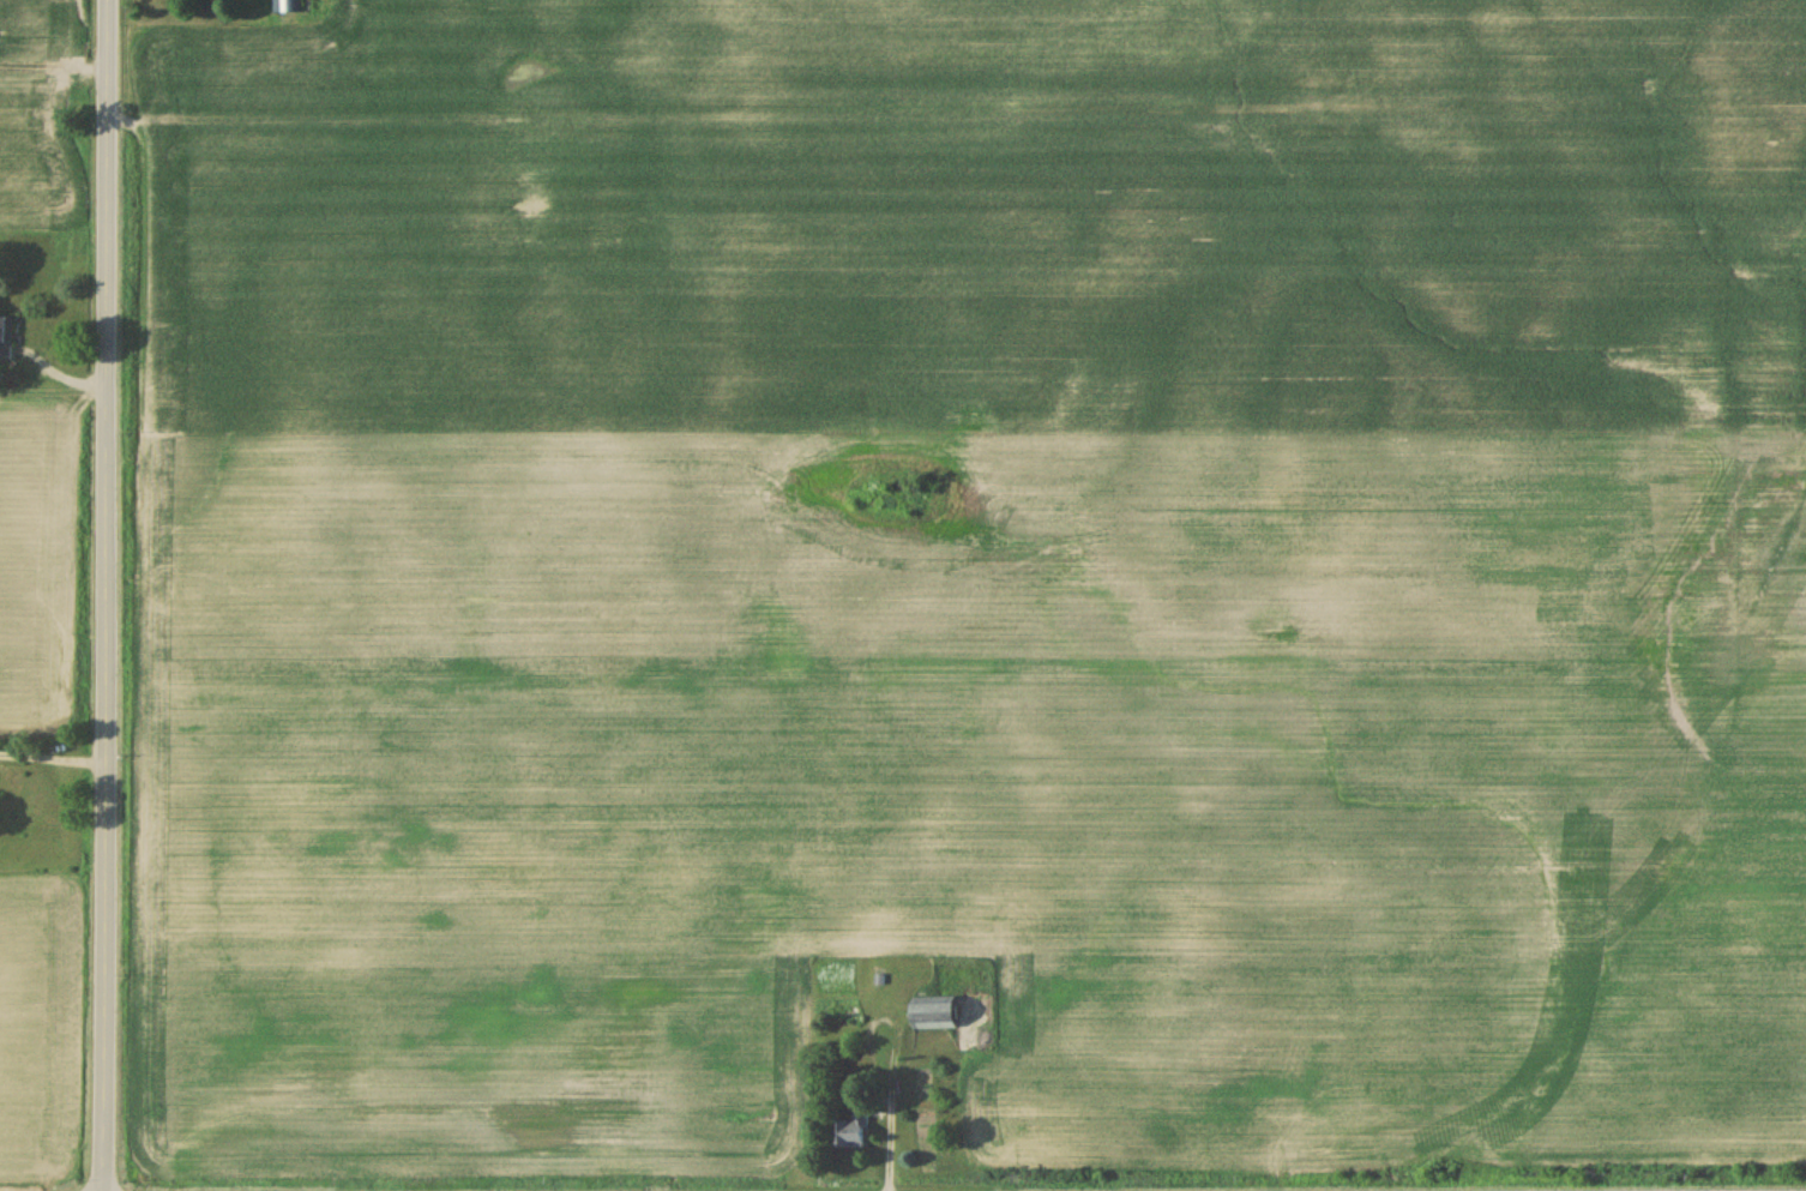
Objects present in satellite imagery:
building: (287, 7)
road: (54, 66)
road: (693, 136)
building: (5, 338)
road: (106, 595)
road: (53, 762)
building: (935, 1016)
building: (851, 1136)

